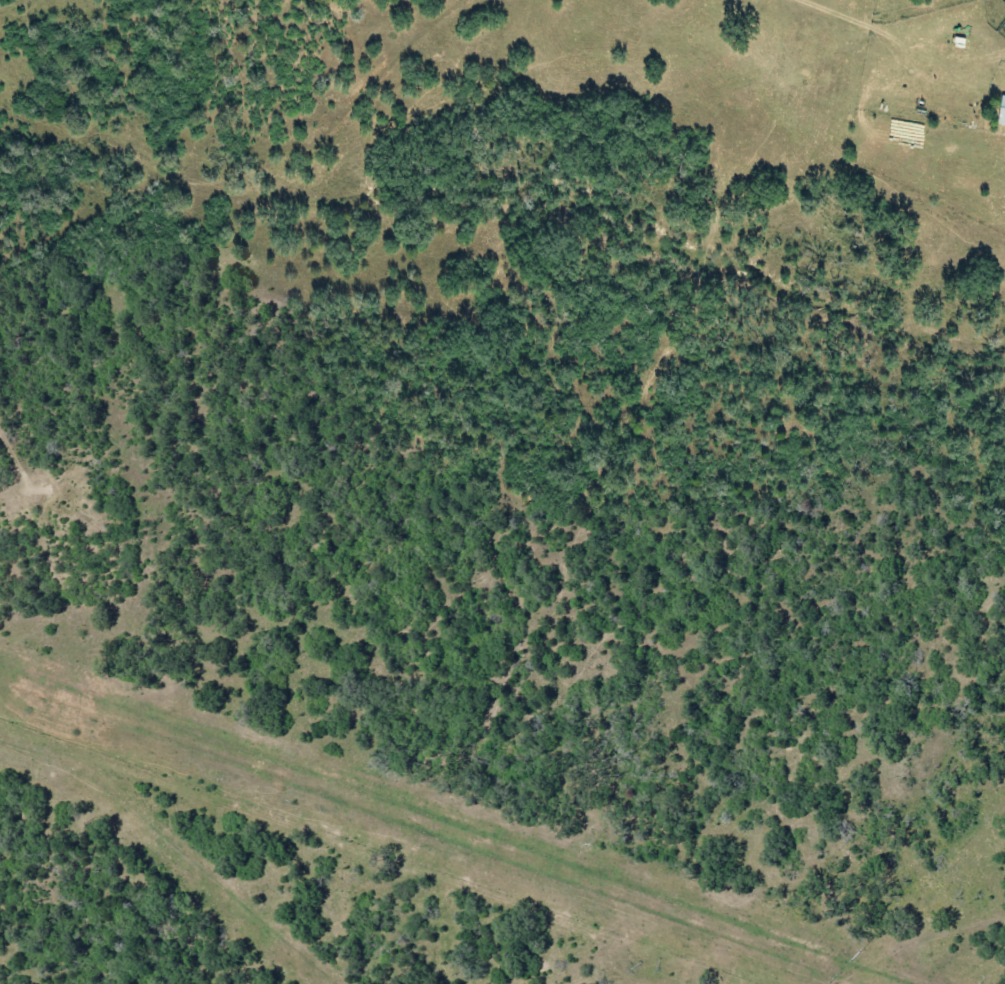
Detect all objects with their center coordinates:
building: (1003, 114)

